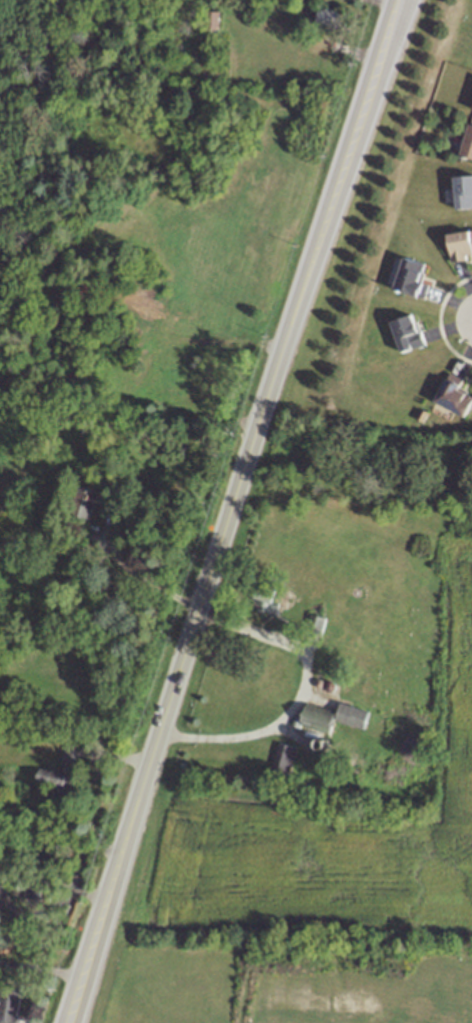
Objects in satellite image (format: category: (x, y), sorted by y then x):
building: (329, 17)
building: (467, 143)
building: (463, 192)
building: (460, 244)
building: (412, 277)
building: (407, 334)
building: (454, 396)
road: (238, 486)
building: (90, 501)
road: (146, 577)
building: (269, 599)
building: (316, 624)
road: (299, 695)
building: (353, 715)
building: (318, 718)
building: (284, 756)
building: (62, 768)
crop: (323, 857)
road: (41, 966)
road: (73, 998)
building: (9, 1003)

